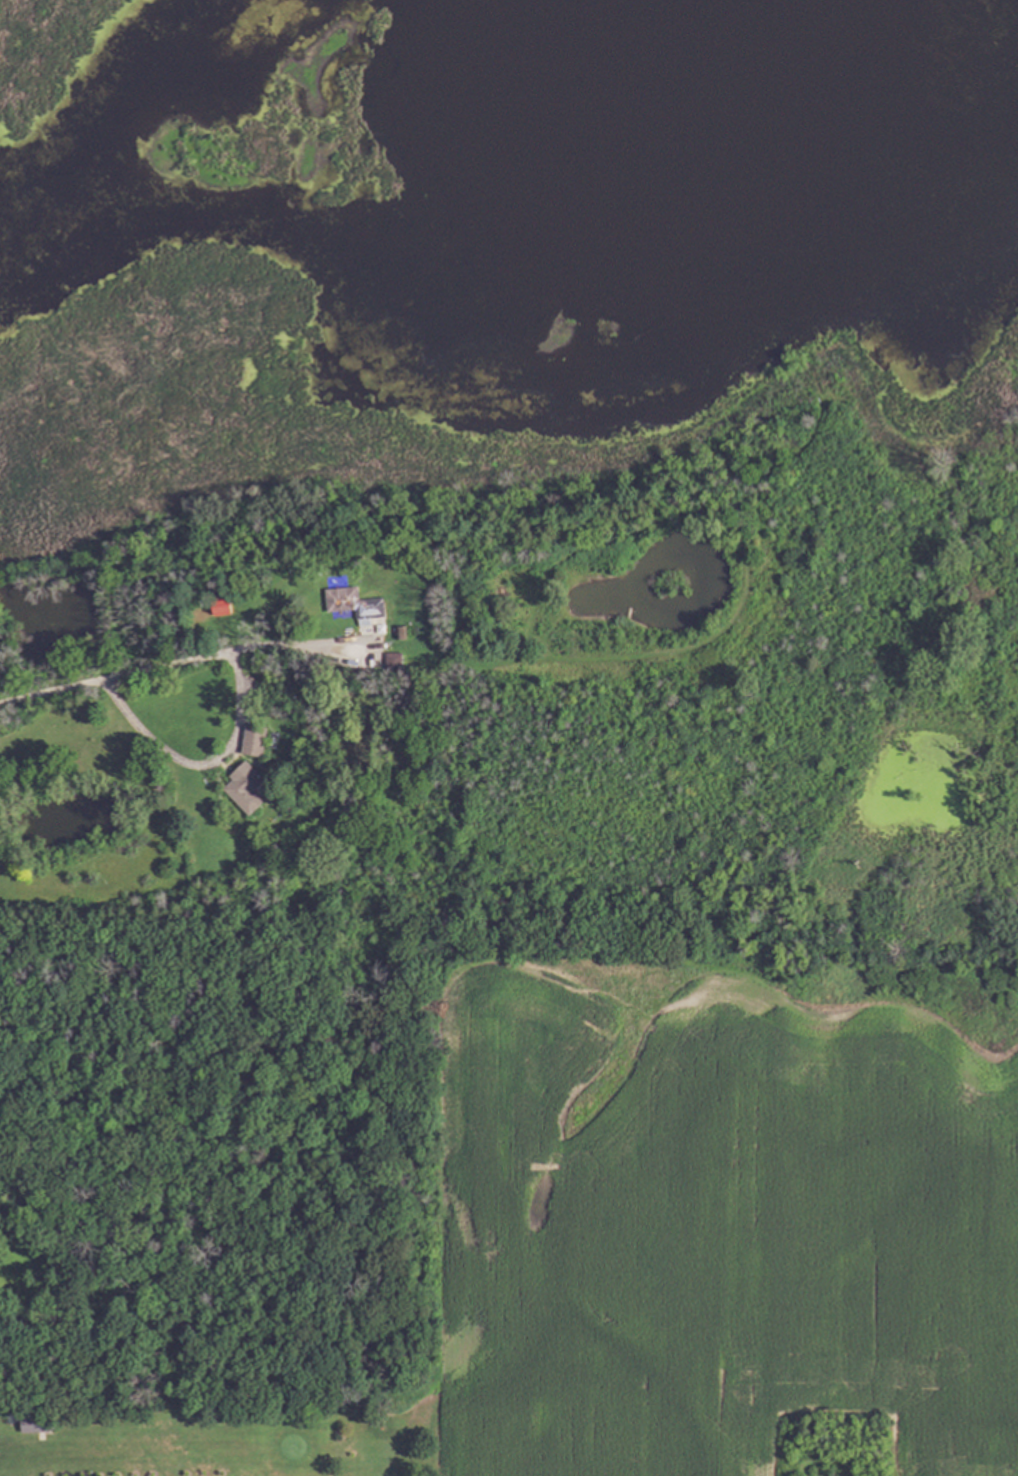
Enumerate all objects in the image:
building: (356, 602)
building: (222, 610)
pier: (628, 616)
building: (399, 634)
building: (395, 660)
road: (179, 665)
building: (251, 742)
building: (397, 751)
road: (201, 766)
building: (242, 789)
crop: (720, 1226)
building: (35, 1427)
park: (207, 1446)

